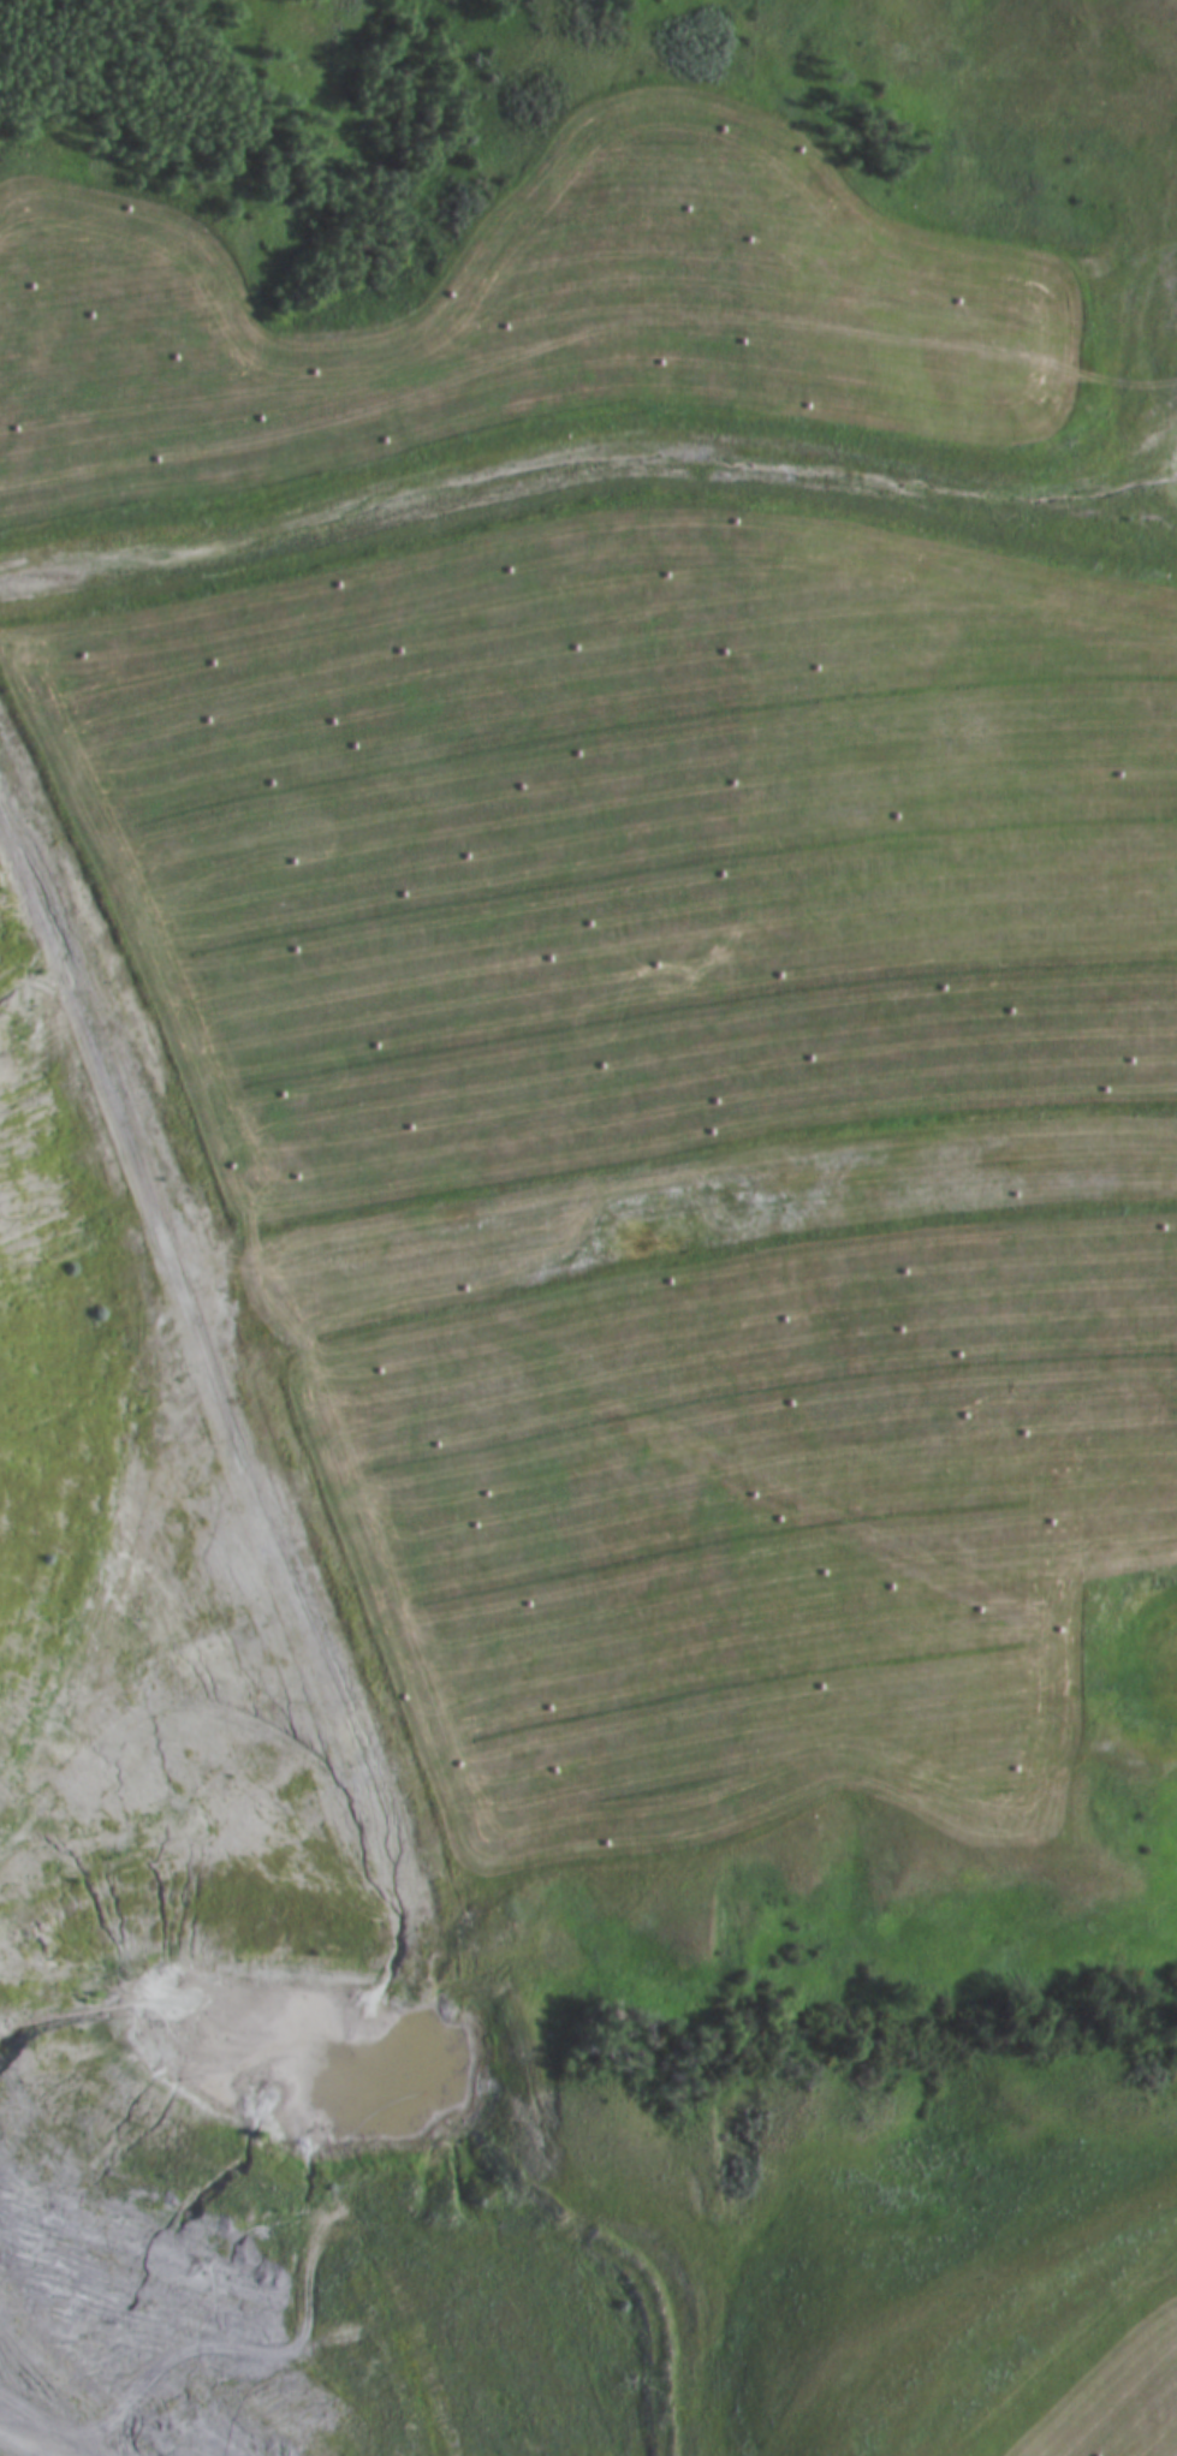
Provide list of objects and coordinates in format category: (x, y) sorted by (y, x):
quarry: (535, 1197)

